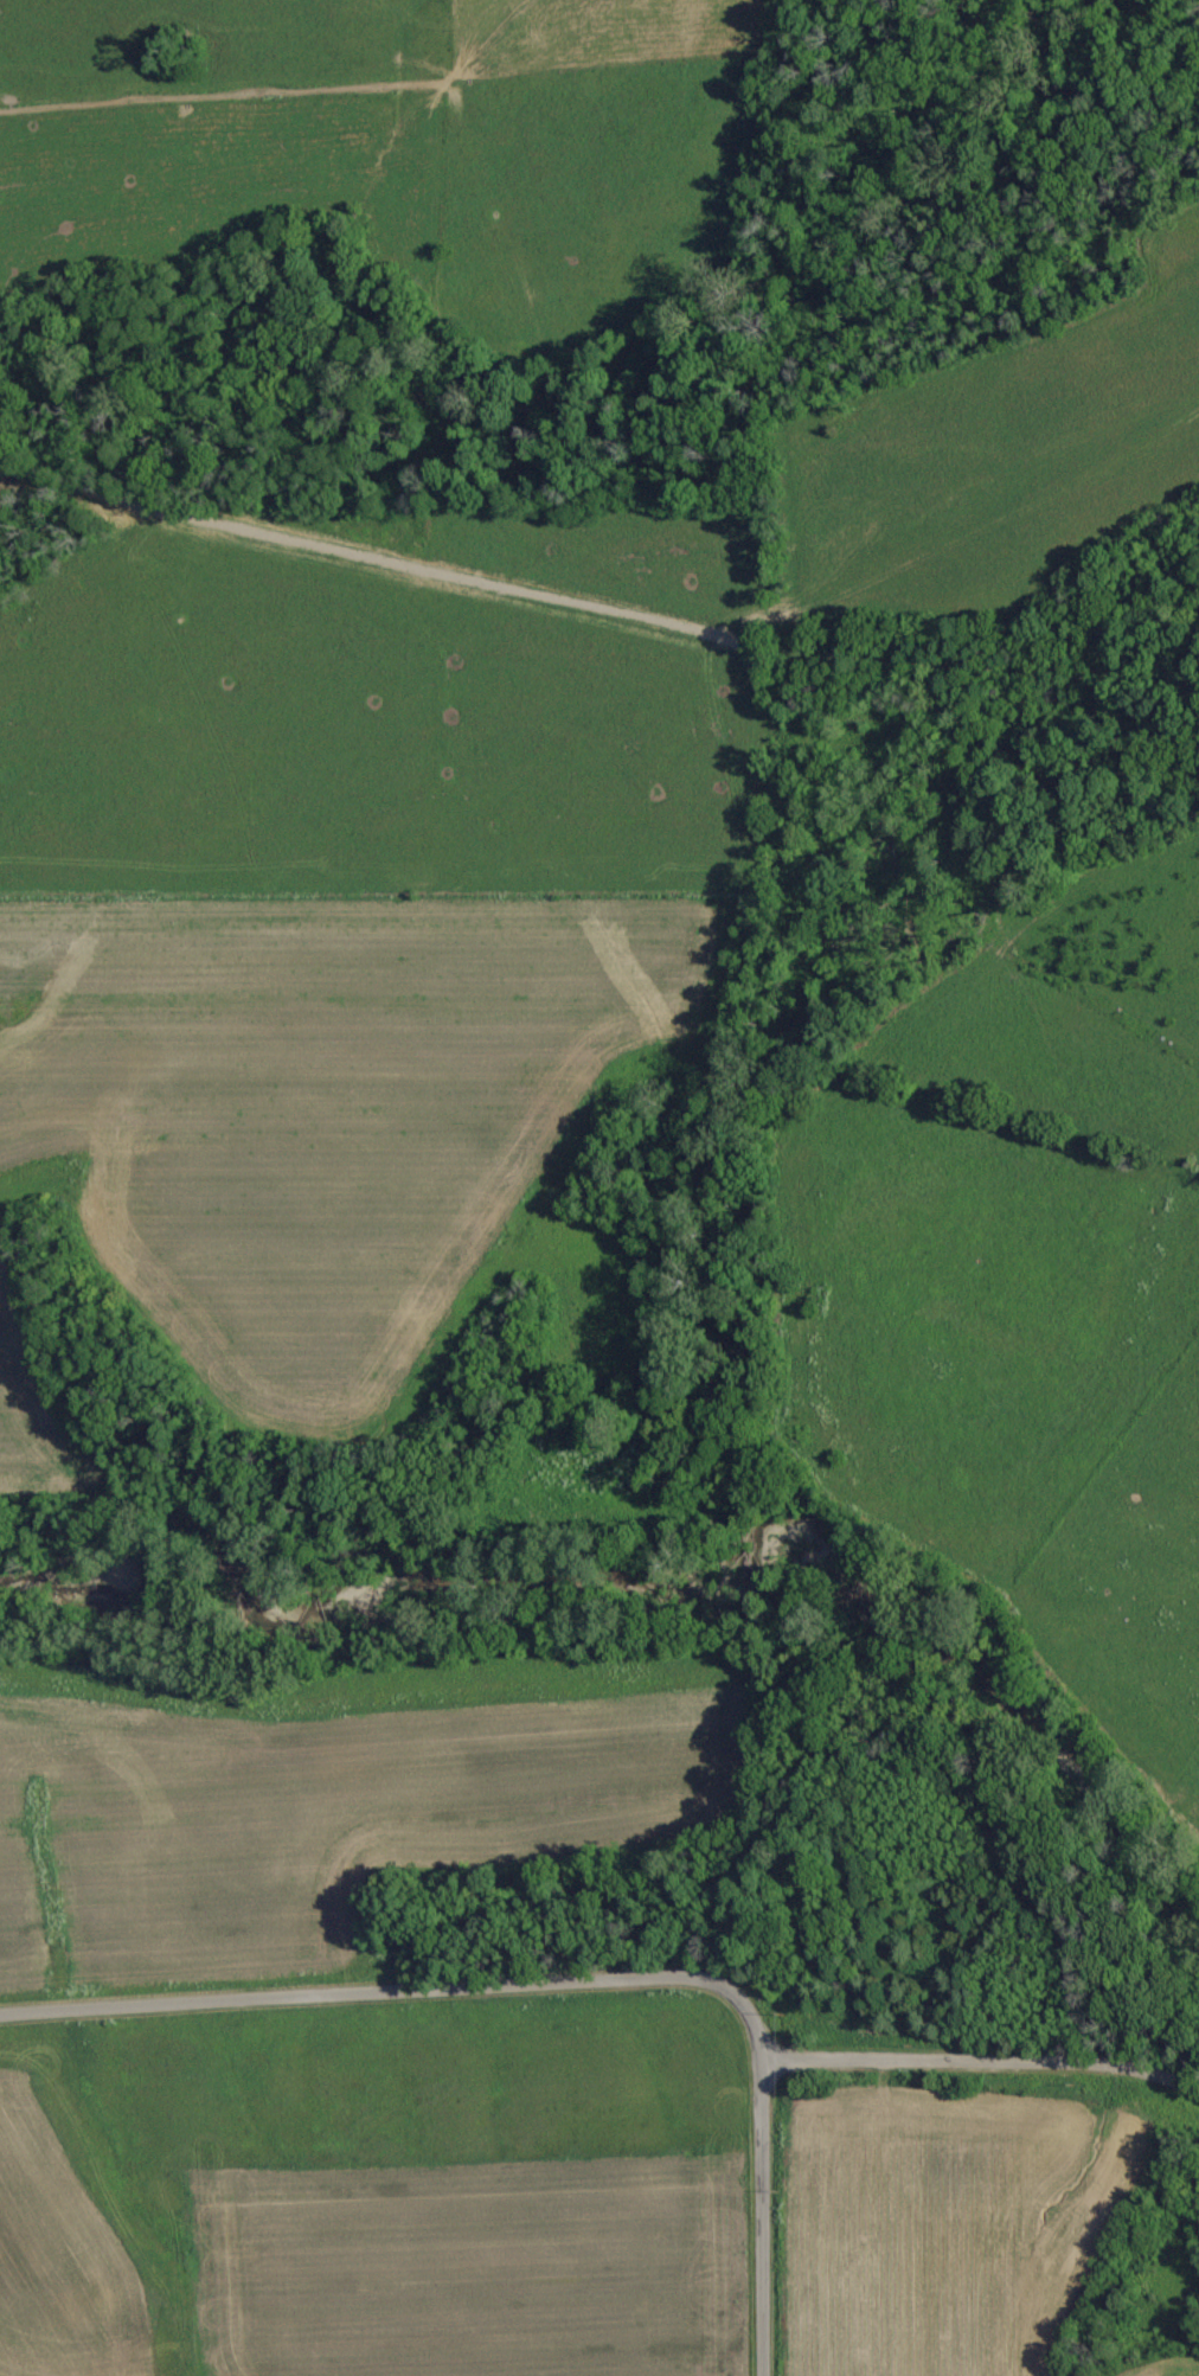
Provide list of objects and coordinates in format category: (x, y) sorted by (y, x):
road: (623, 1978)
road: (764, 2218)

